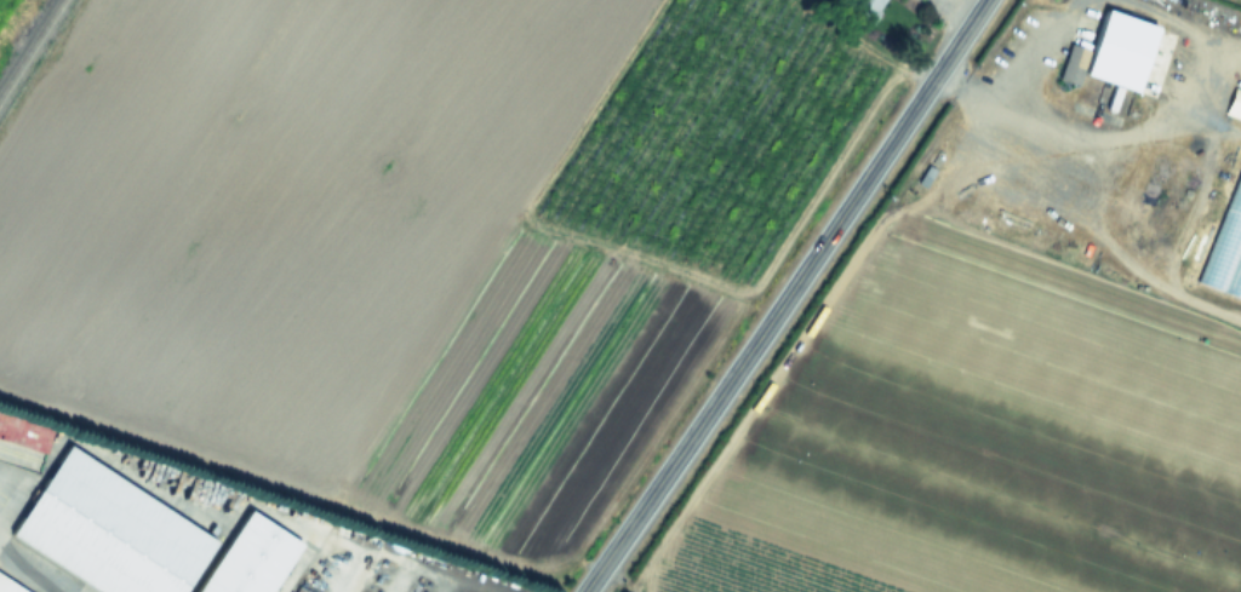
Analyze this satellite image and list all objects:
road: (974, 4)
building: (863, 7)
crop: (7, 12)
railway: (29, 45)
building: (1073, 65)
road: (1080, 132)
crop: (659, 280)
road: (785, 297)
building: (109, 531)
building: (248, 558)
building: (8, 586)

